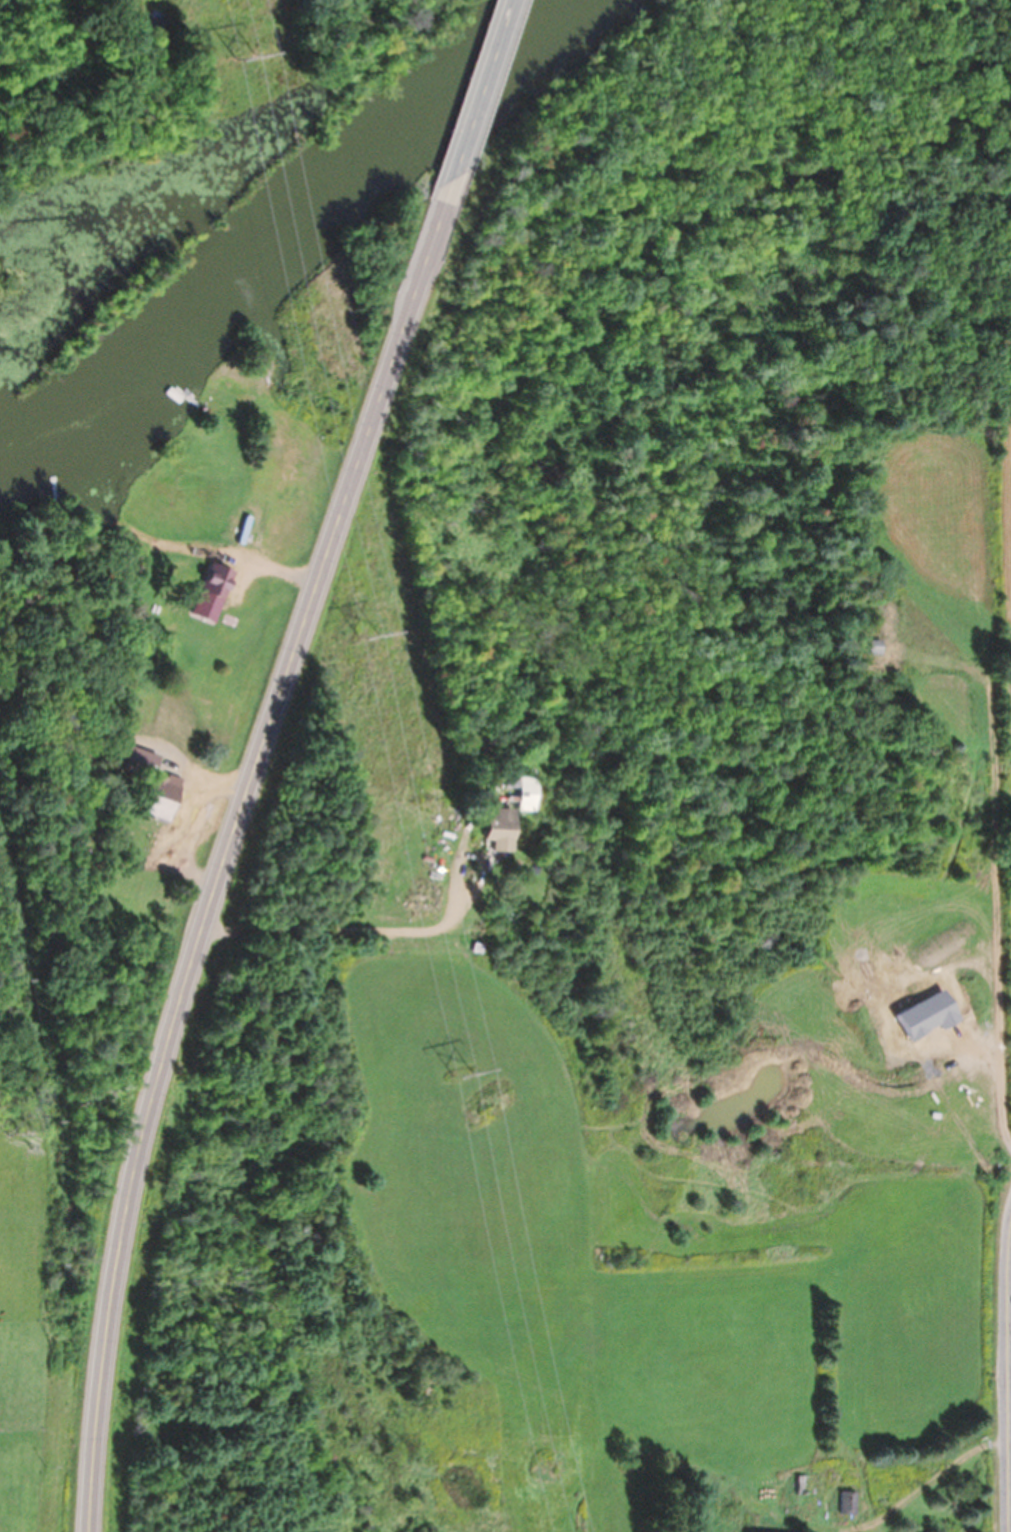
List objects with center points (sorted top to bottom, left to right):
power tower: (243, 56)
road: (481, 90)
river: (293, 239)
building: (237, 443)
building: (245, 522)
power tower: (368, 633)
building: (200, 641)
building: (168, 722)
building: (142, 760)
building: (166, 795)
building: (509, 816)
road: (230, 847)
power tower: (460, 1073)
building: (802, 1484)
building: (848, 1502)

